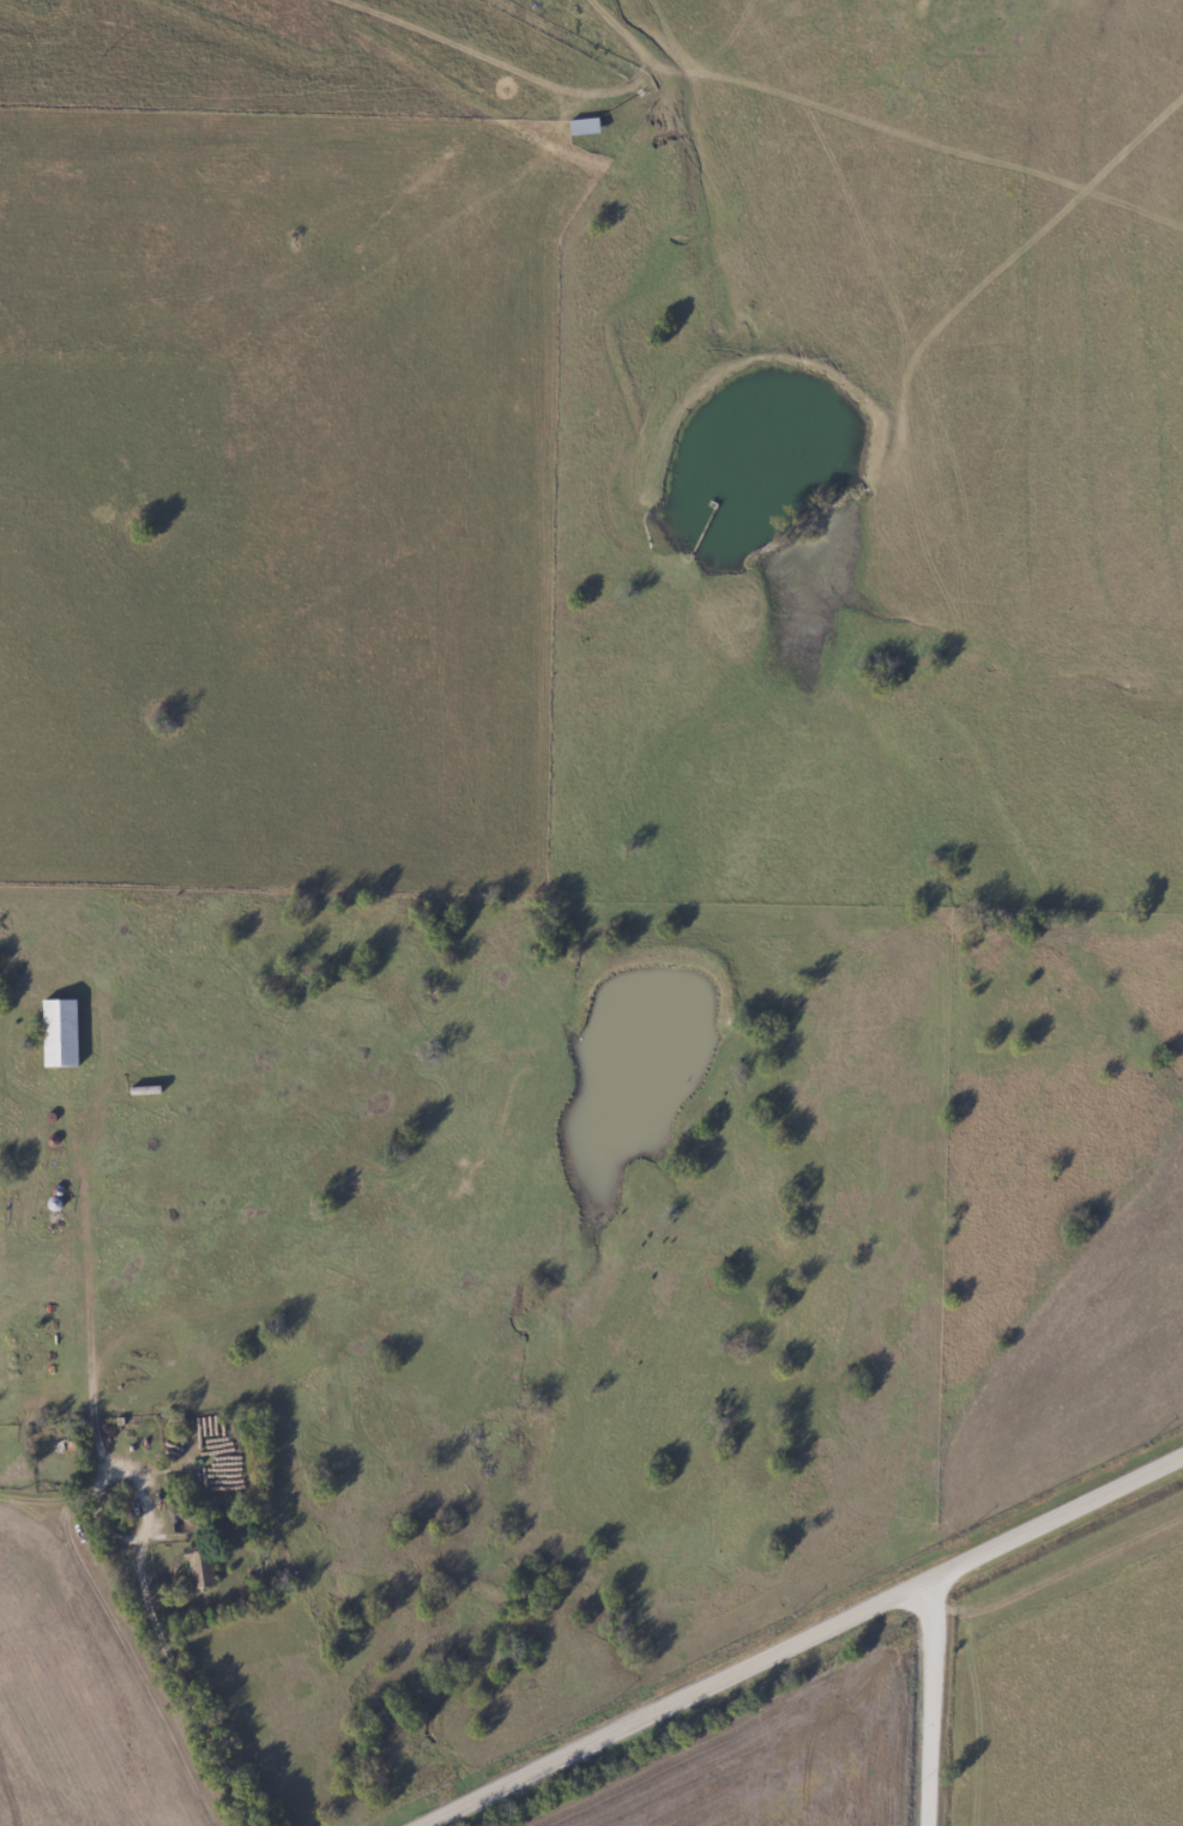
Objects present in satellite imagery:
building: (586, 128)
building: (62, 1034)
road: (115, 1464)
building: (183, 1526)
building: (200, 1568)
road: (804, 1640)
road: (191, 1689)
road: (929, 1704)

